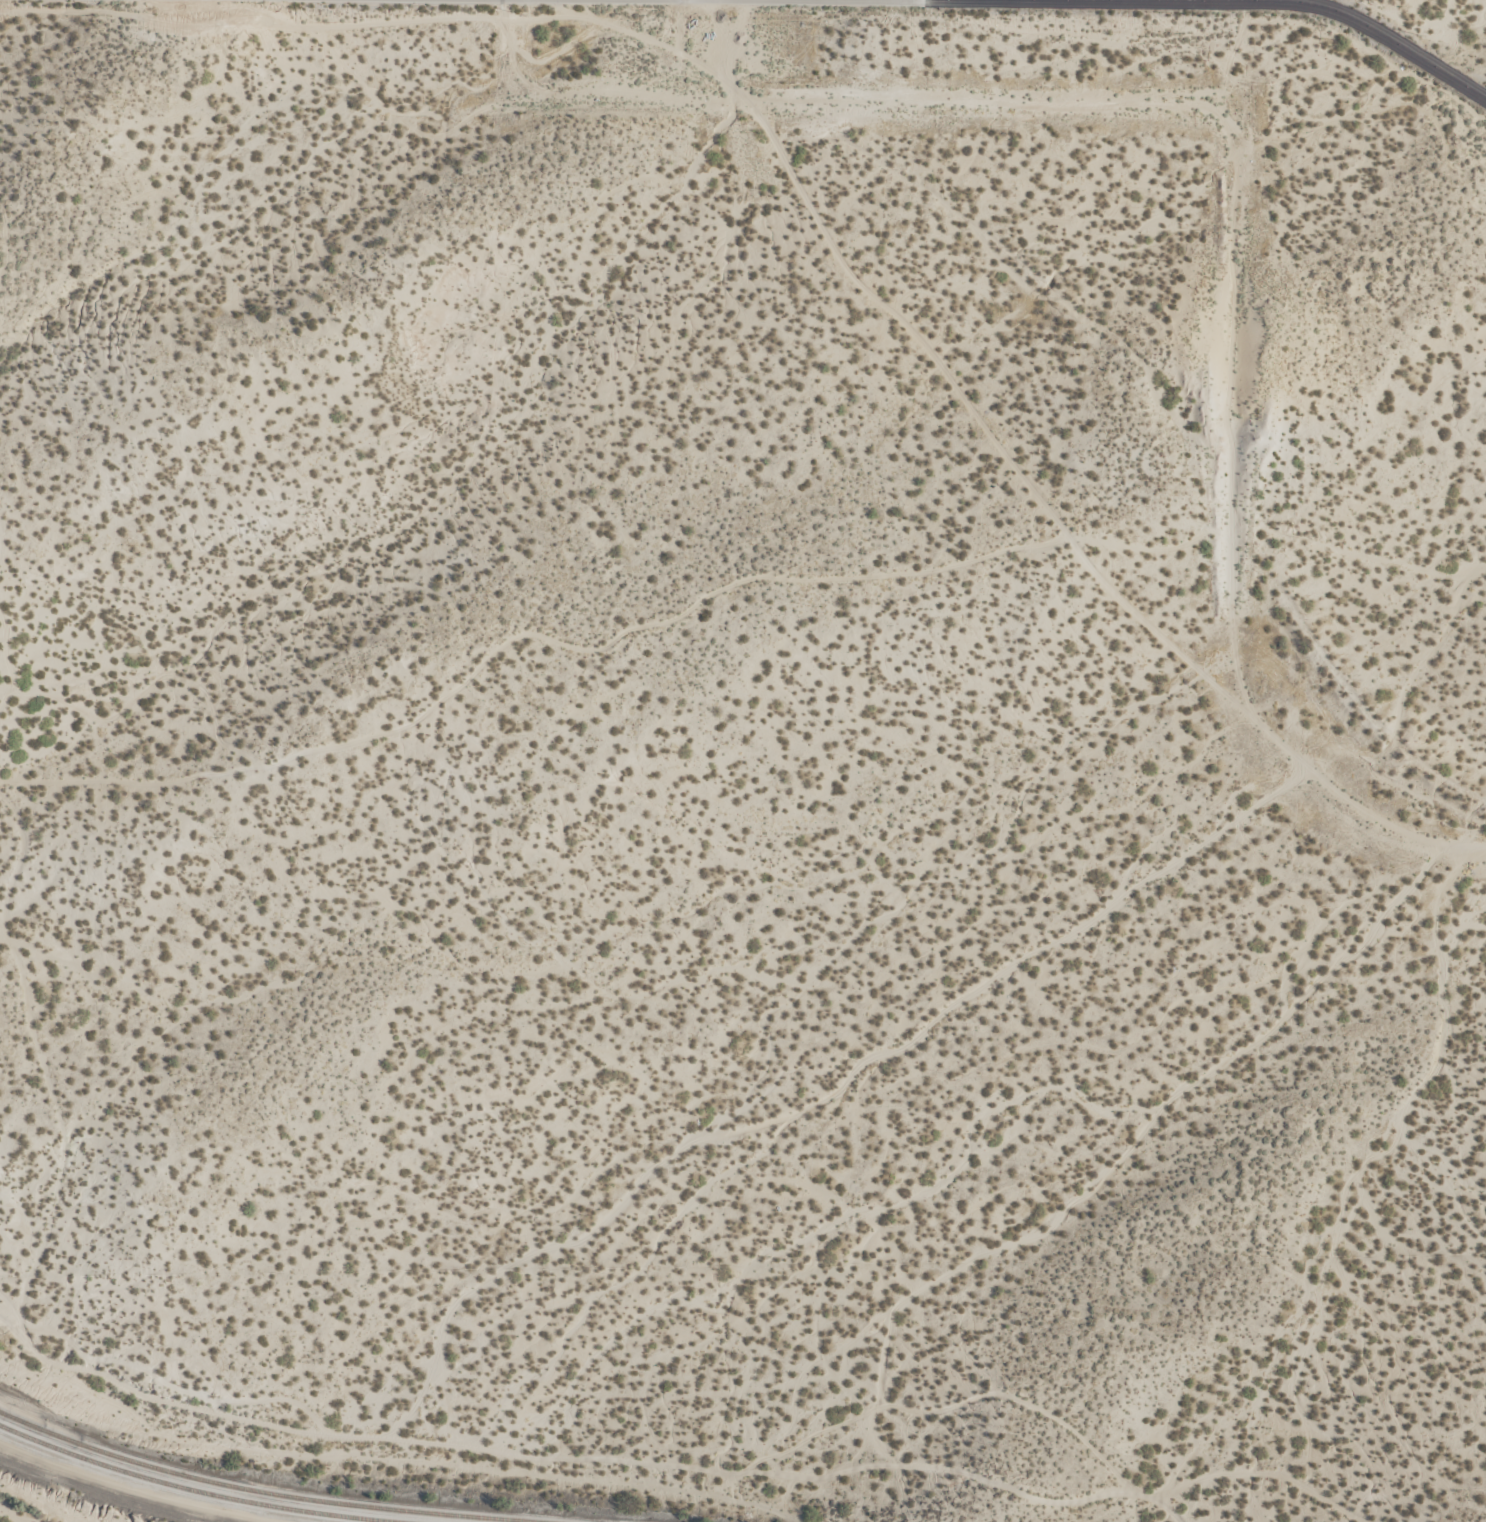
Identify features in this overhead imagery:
road: (1257, 1)
railway: (193, 1491)
railway: (262, 1493)

